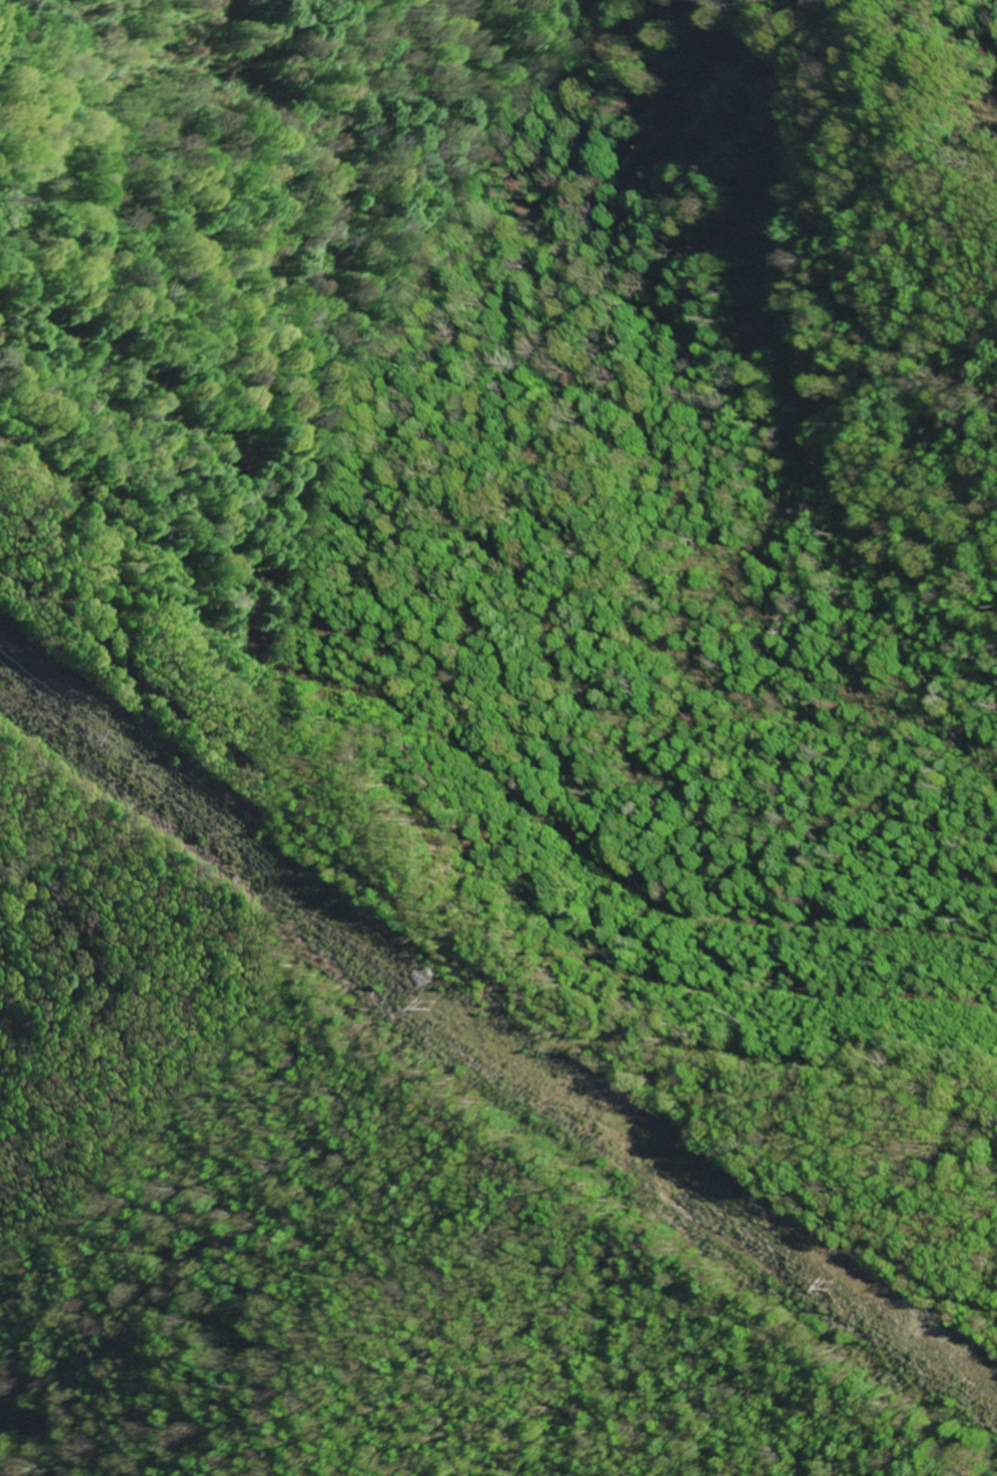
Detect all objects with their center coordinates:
power tower: (586, 1099)

